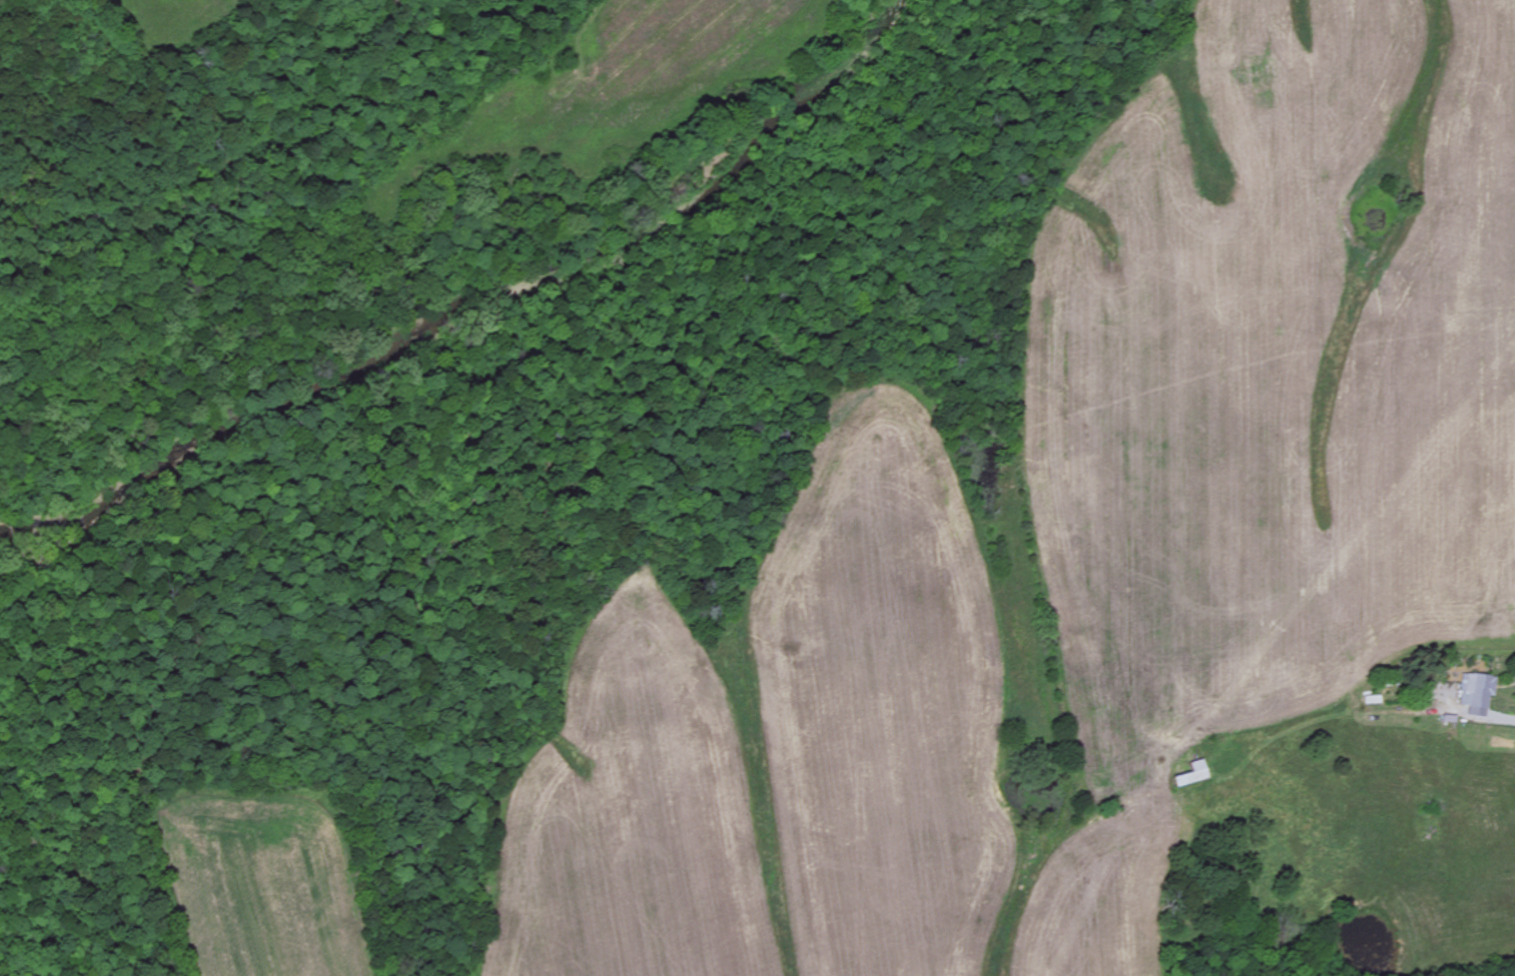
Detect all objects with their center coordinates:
building: (1477, 694)
building: (1192, 775)

